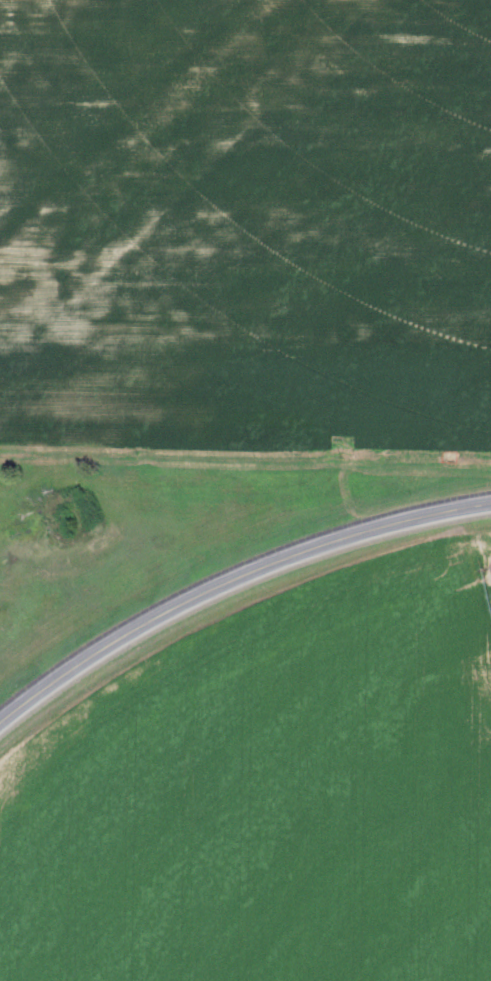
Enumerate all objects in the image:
road: (230, 576)

